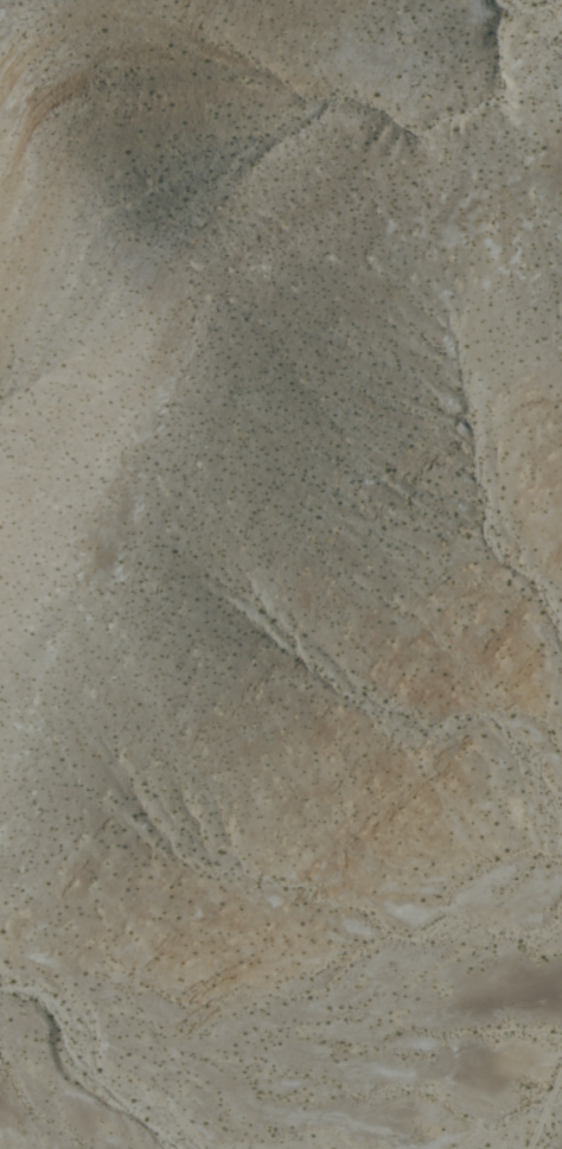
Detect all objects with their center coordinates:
road: (549, 1116)

